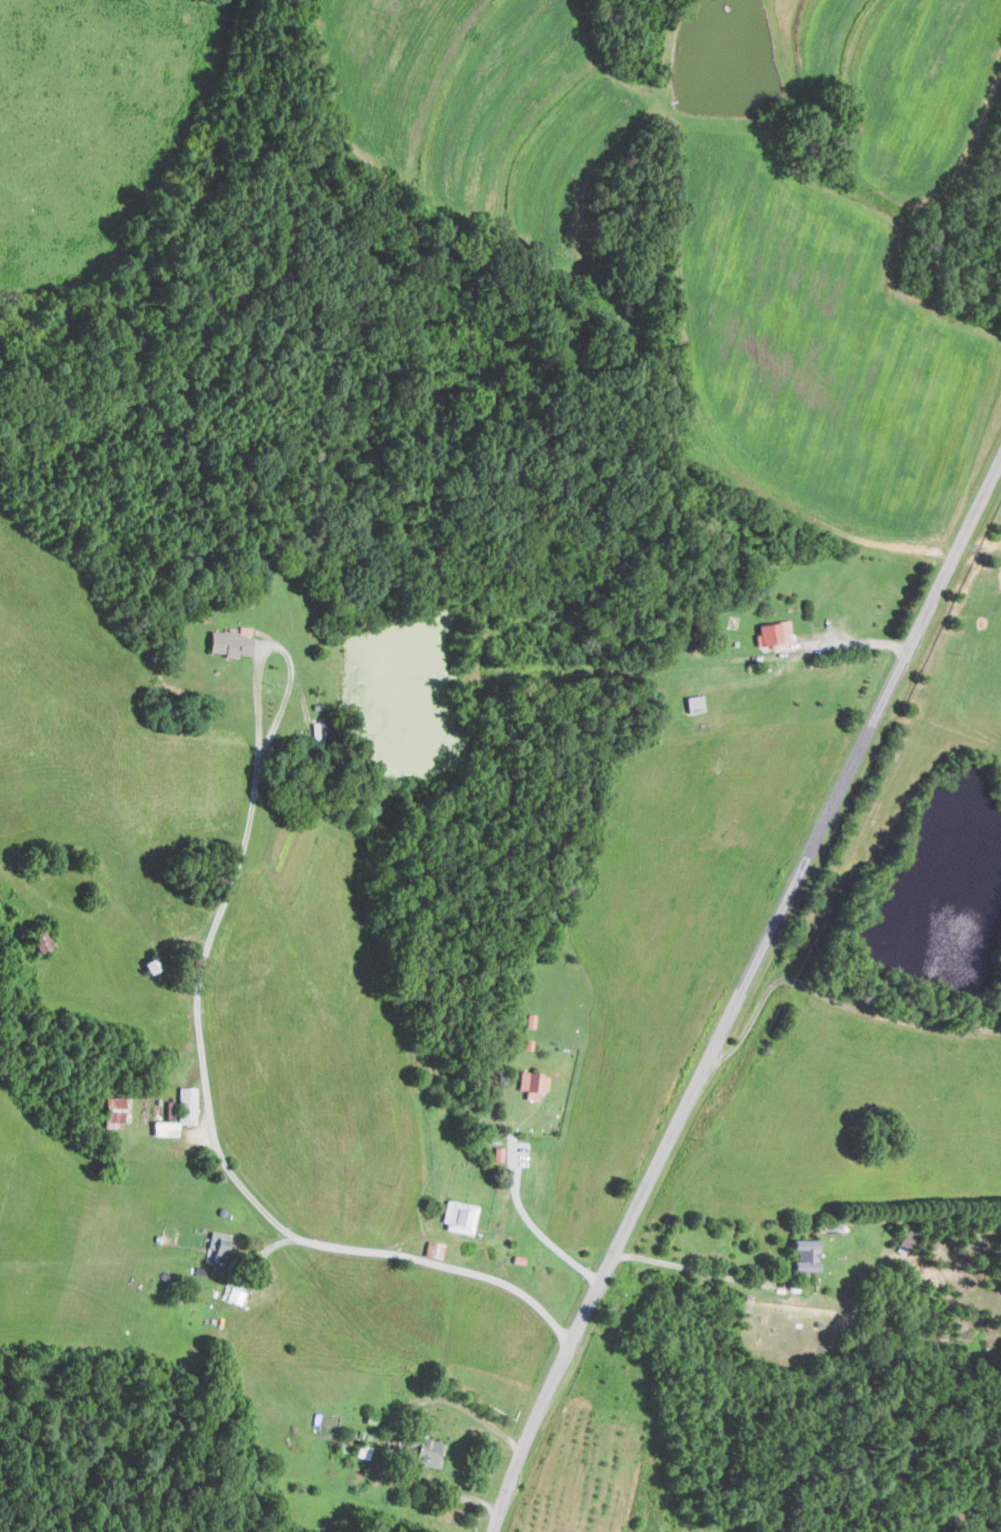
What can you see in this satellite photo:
building: (771, 632)
building: (229, 641)
road: (855, 643)
road: (280, 700)
road: (258, 806)
building: (39, 940)
road: (740, 993)
building: (531, 1084)
building: (186, 1105)
building: (113, 1109)
building: (163, 1128)
building: (497, 1154)
building: (458, 1217)
road: (530, 1226)
road: (300, 1232)
building: (217, 1244)
building: (803, 1255)
road: (696, 1268)
road: (393, 1425)
building: (426, 1452)

